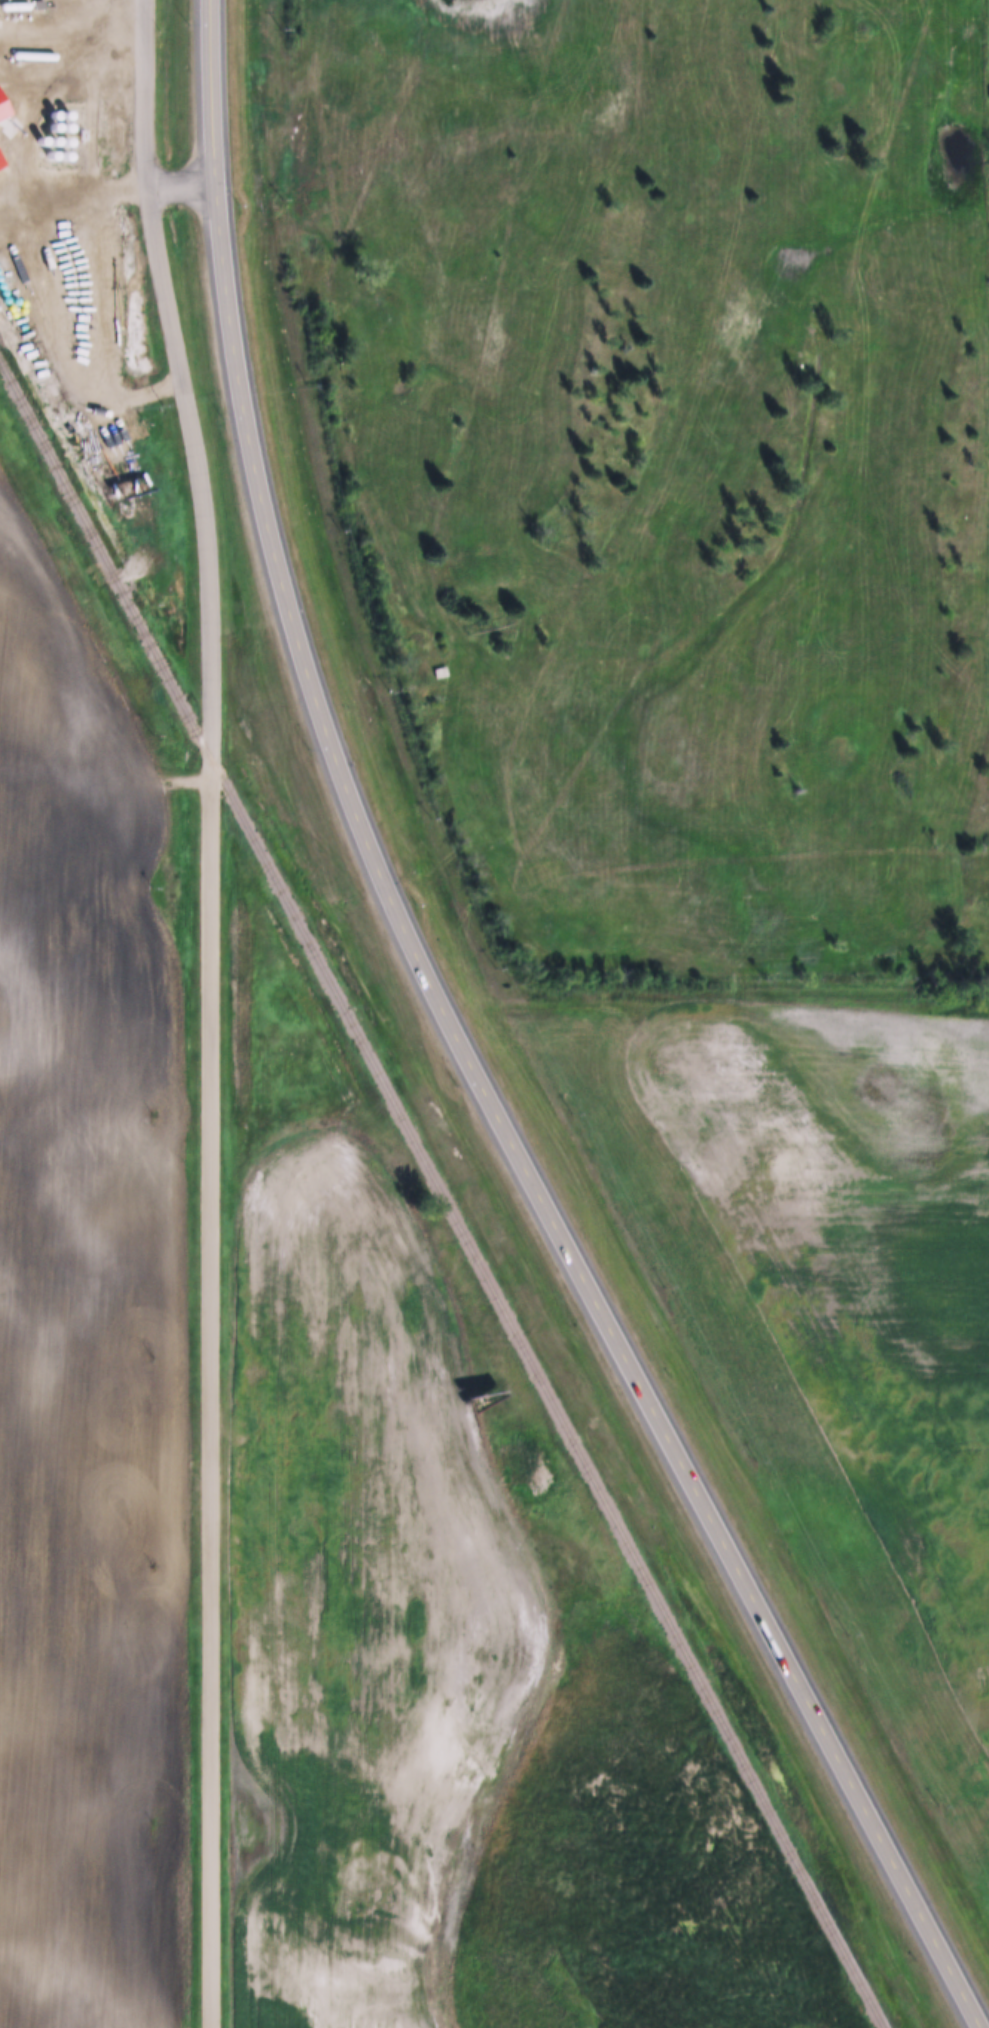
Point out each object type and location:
storage tank: (13, 4)
storage tank: (32, 55)
road: (635, 74)
building: (3, 108)
storage tank: (52, 112)
storage tank: (64, 112)
storage tank: (51, 125)
storage tank: (64, 125)
storage tank: (39, 139)
storage tank: (51, 139)
storage tank: (63, 139)
road: (320, 145)
storage tank: (48, 153)
storage tank: (62, 153)
road: (146, 185)
road: (217, 219)
road: (80, 235)
road: (178, 377)
park: (653, 472)
road: (450, 642)
road: (95, 662)
building: (435, 672)
road: (595, 734)
road: (951, 789)
road: (547, 882)
railway: (439, 1197)
road: (564, 1252)
road: (204, 1391)

